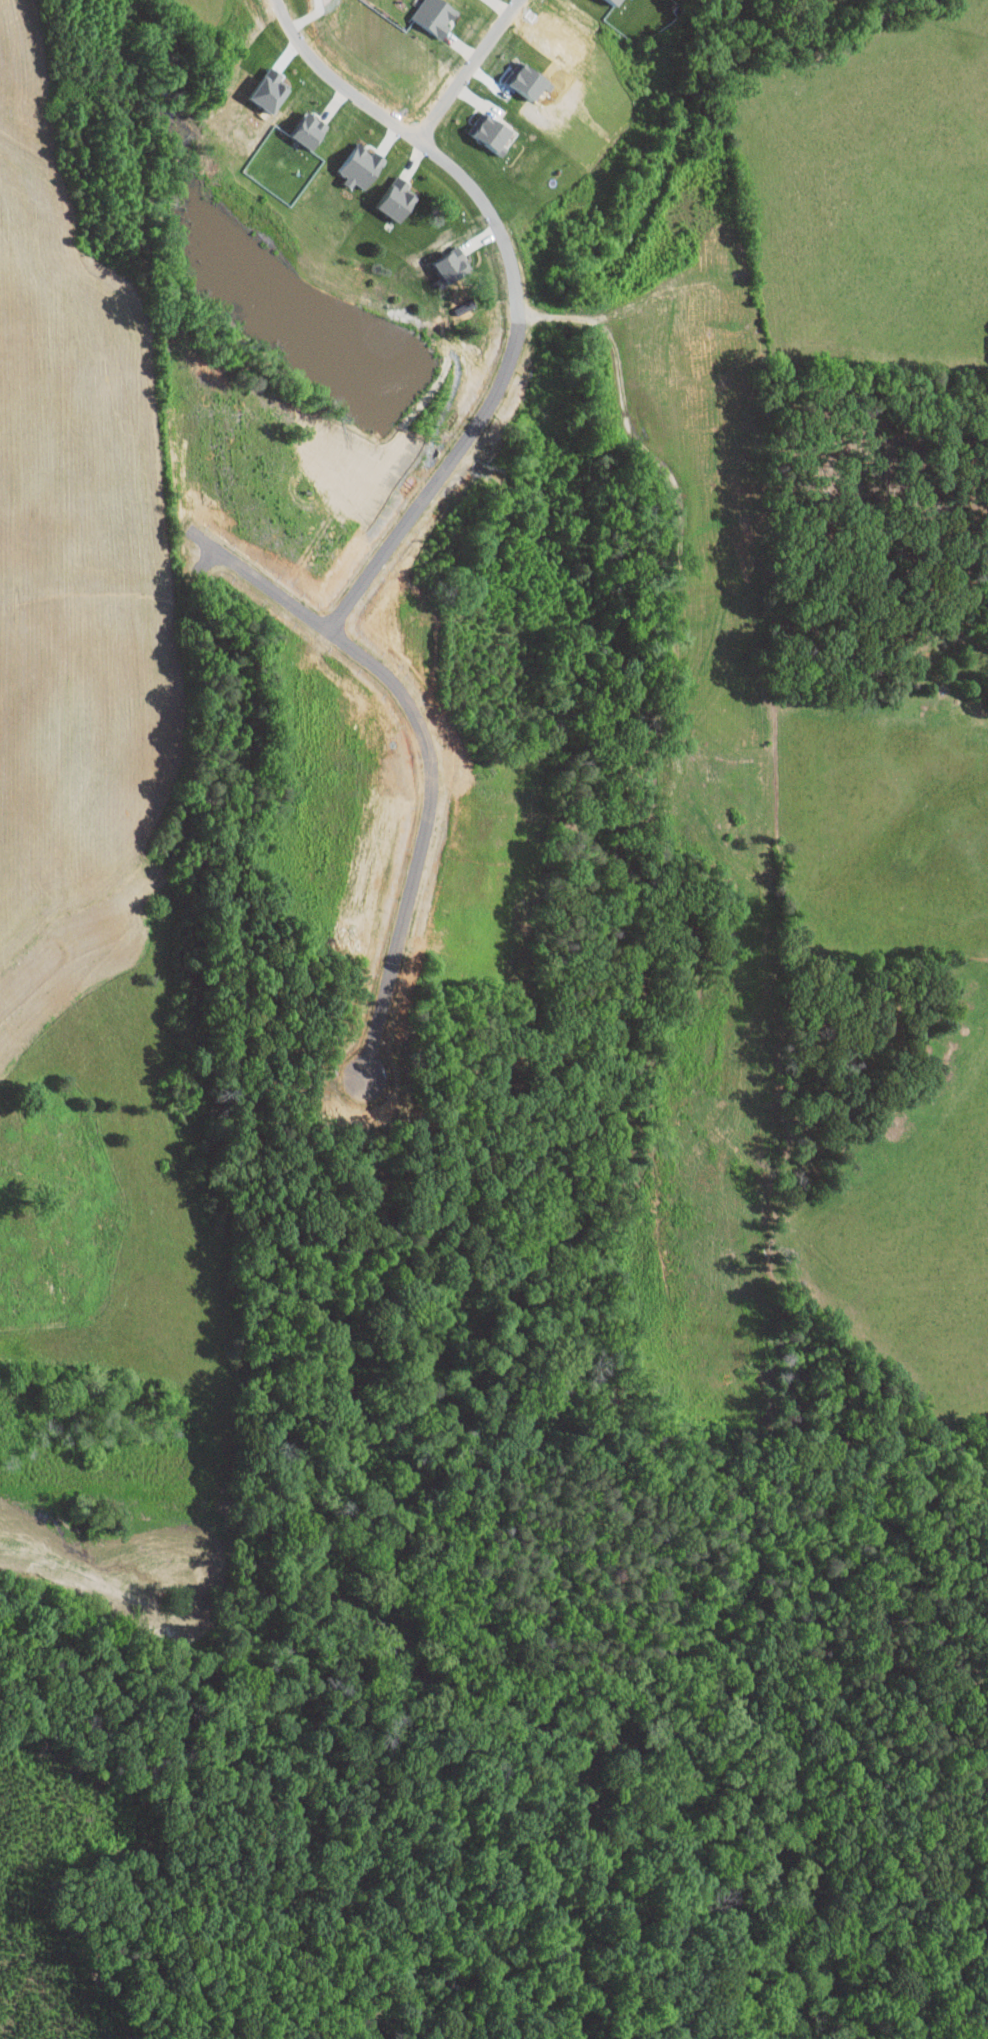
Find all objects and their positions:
building: (614, 2)
building: (434, 16)
road: (468, 69)
building: (308, 130)
building: (490, 133)
building: (361, 166)
building: (397, 199)
building: (450, 266)
road: (515, 297)

